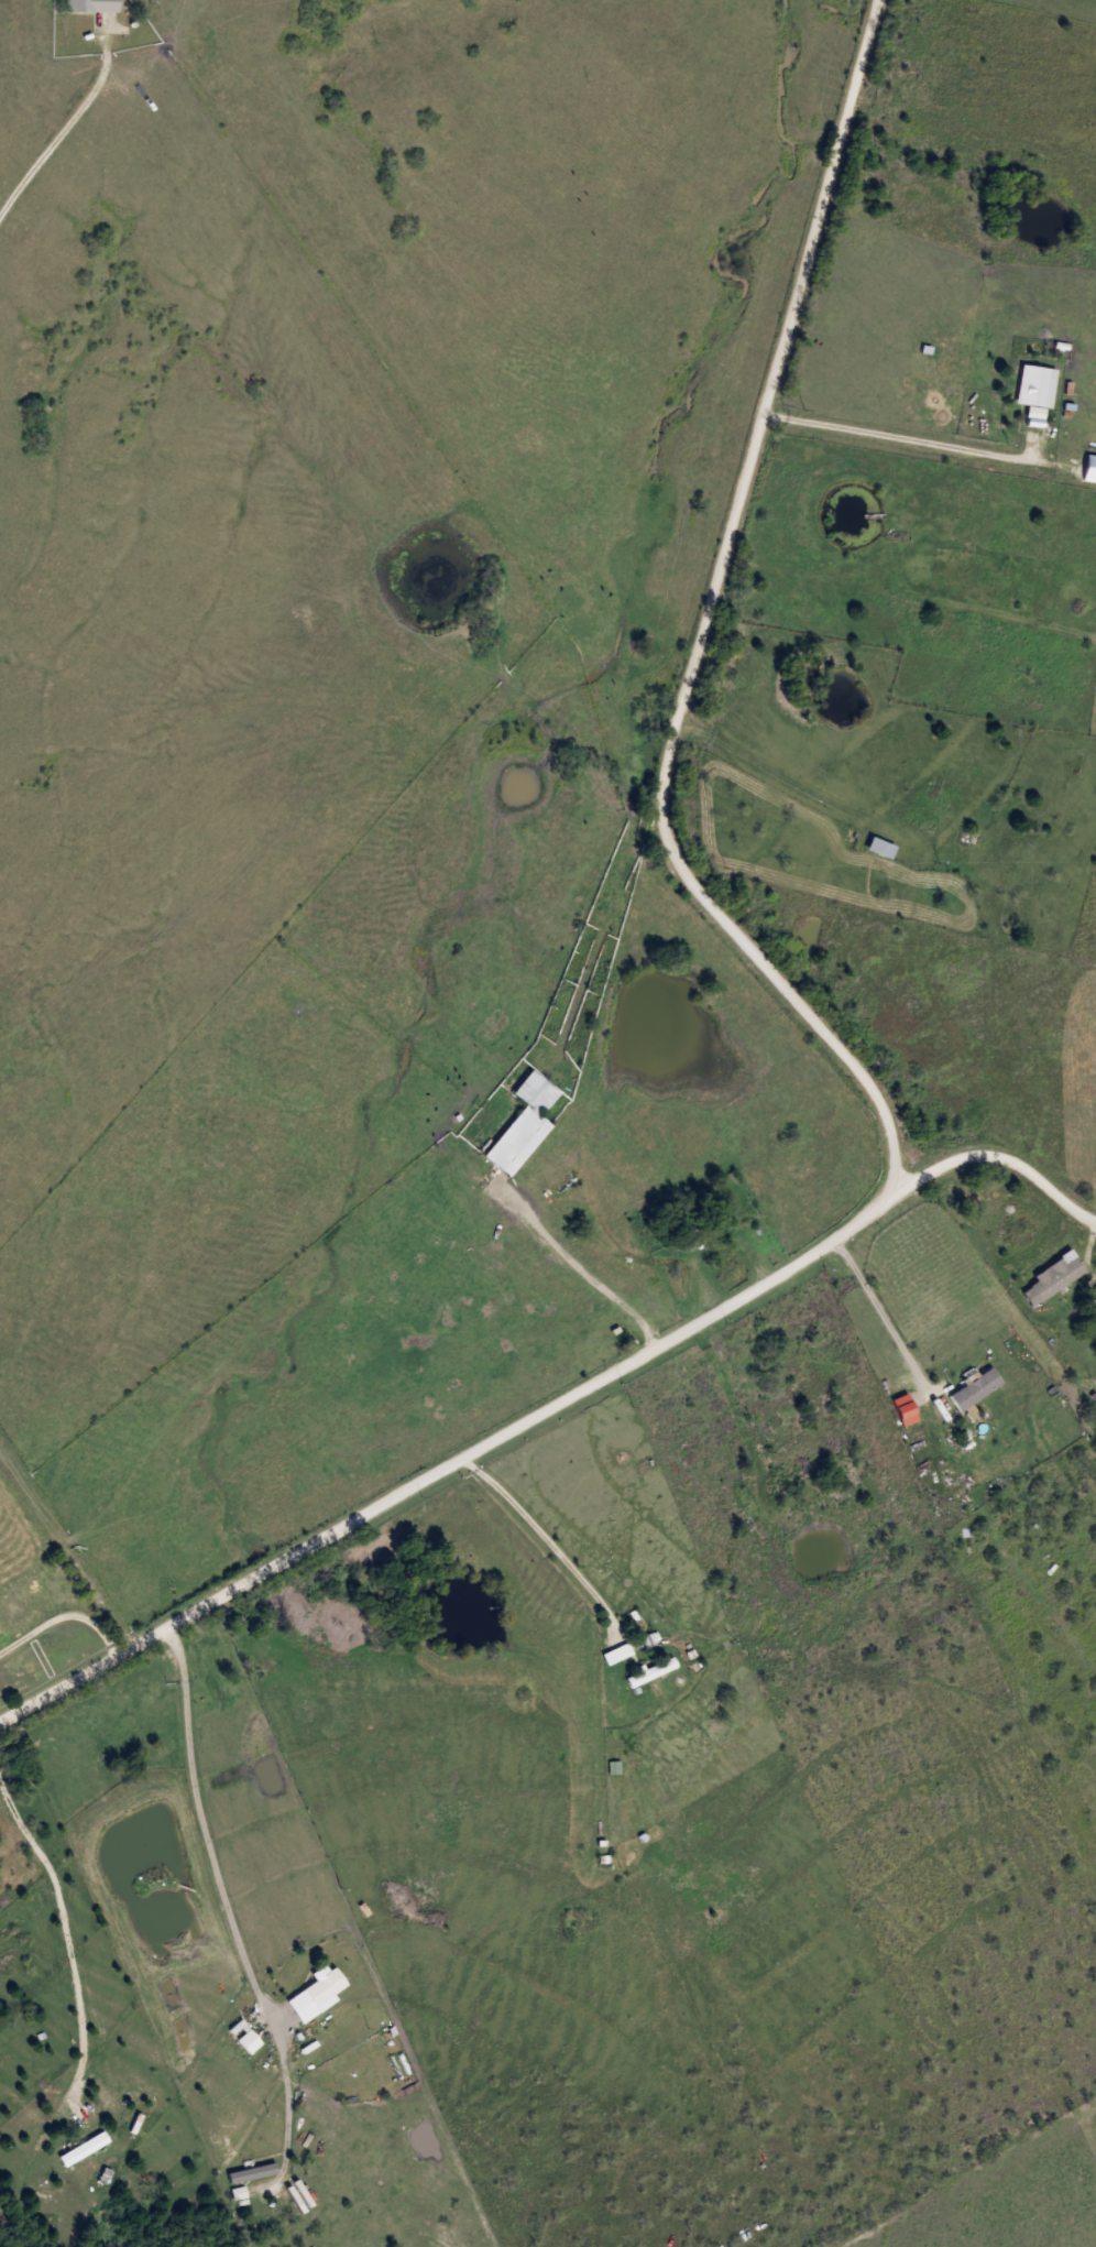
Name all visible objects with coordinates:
building: (90, 6)
road: (66, 124)
road: (974, 130)
building: (1033, 386)
road: (929, 441)
road: (703, 629)
road: (999, 1156)
building: (691, 1229)
road: (709, 1241)
road: (617, 1247)
building: (1051, 1278)
road: (883, 1312)
road: (719, 1365)
building: (975, 1388)
building: (771, 1403)
road: (449, 1464)
road: (549, 1539)
road: (62, 1619)
park: (52, 1621)
building: (649, 1672)
road: (209, 1814)
road: (74, 1930)
building: (317, 1994)
building: (245, 2039)
building: (83, 2149)

